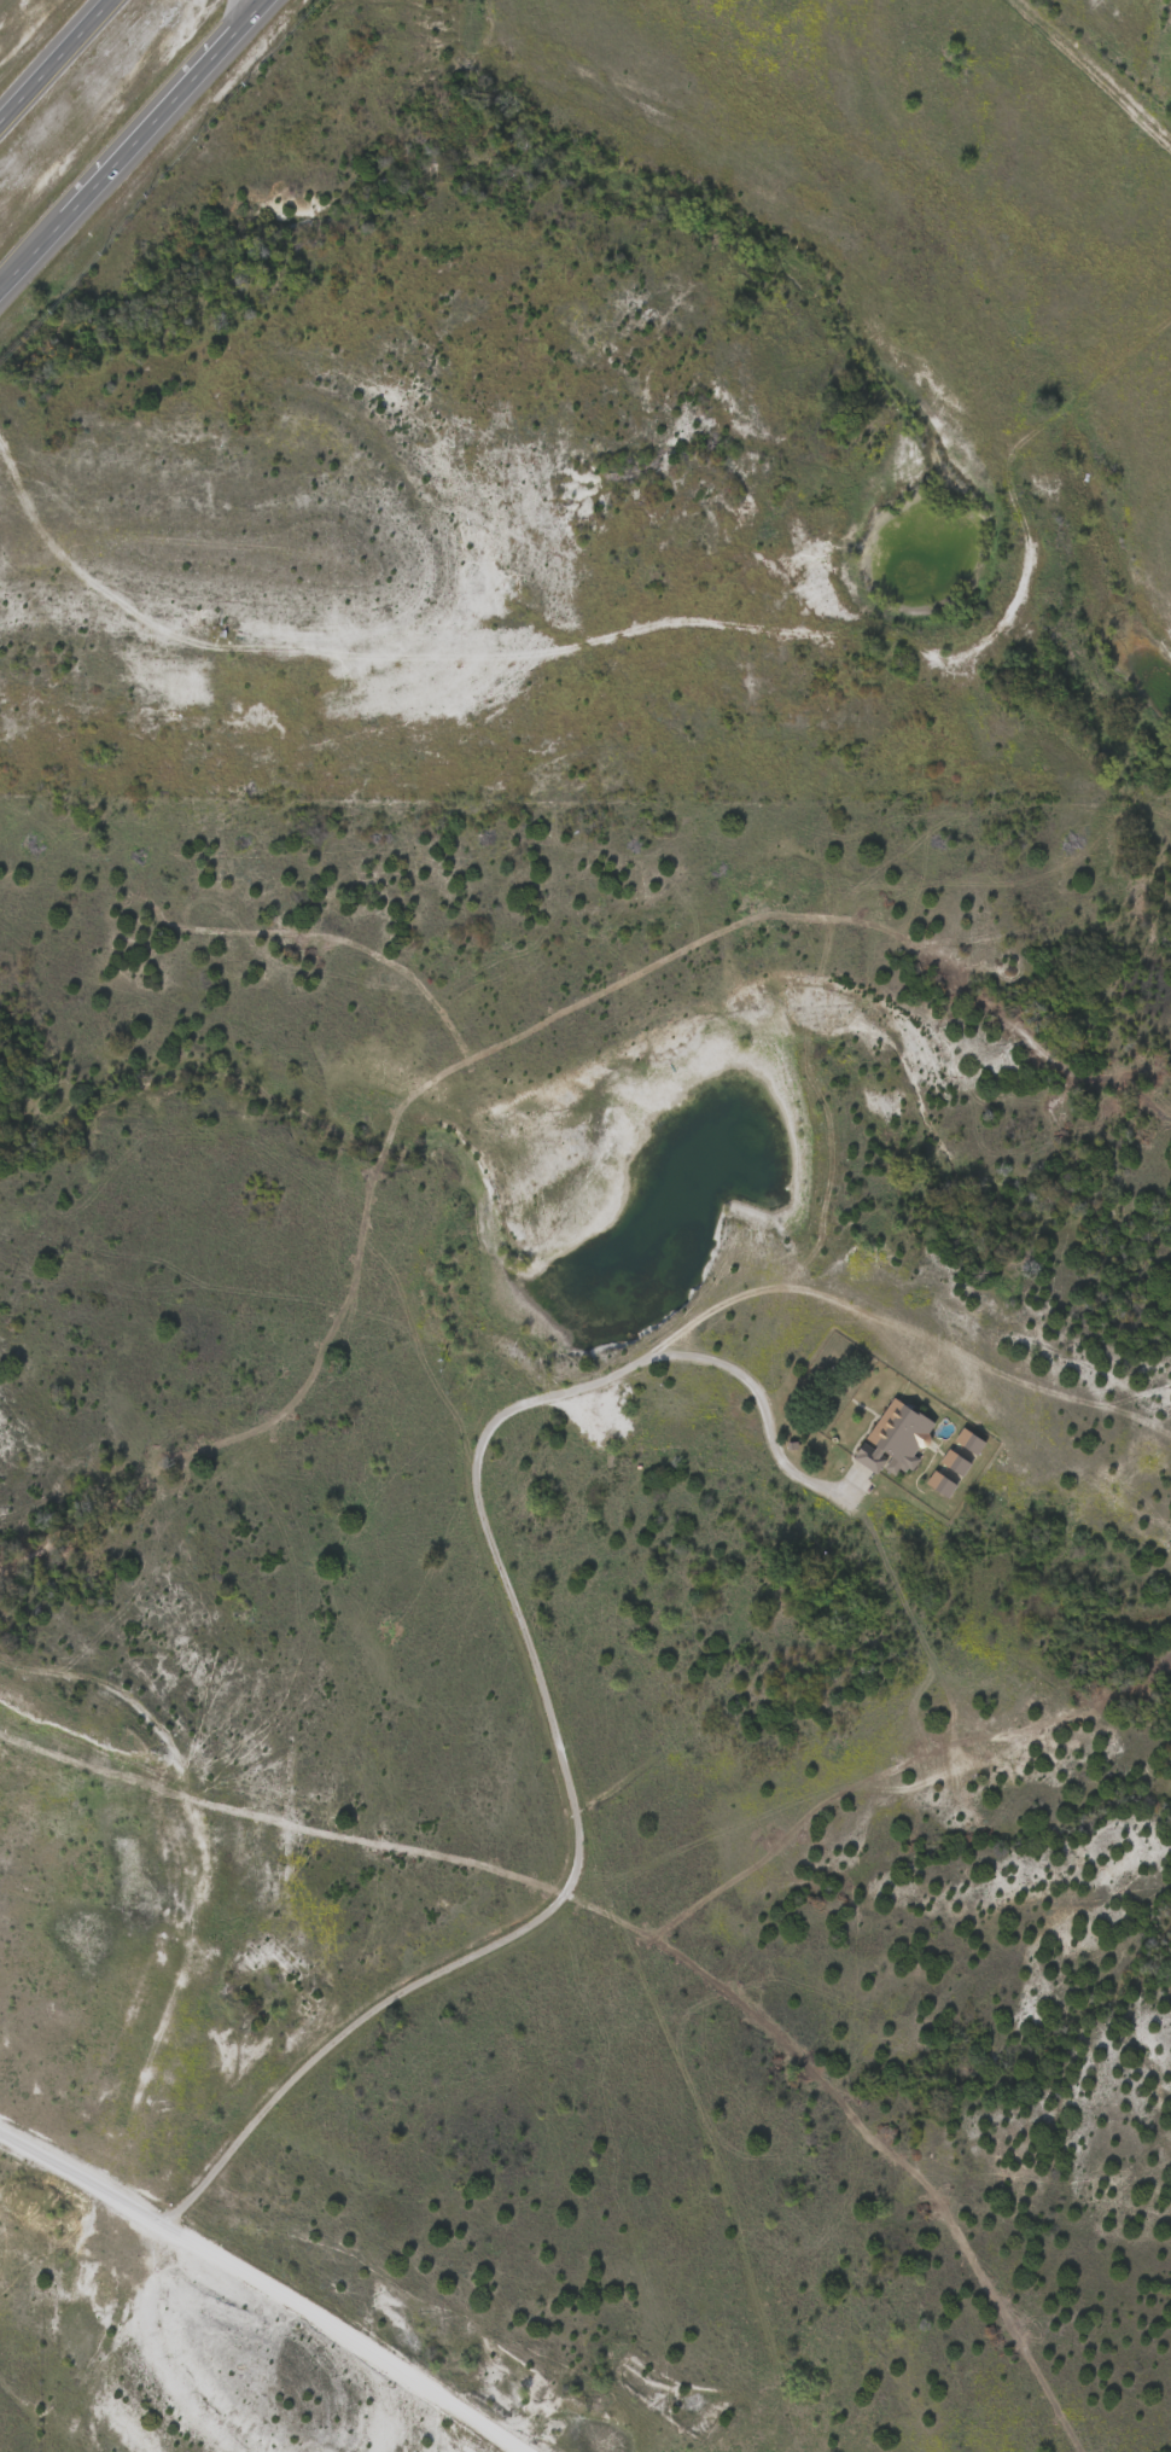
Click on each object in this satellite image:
road: (56, 59)
road: (1090, 69)
road: (129, 142)
road: (805, 1281)
road: (759, 1414)
building: (895, 1438)
road: (537, 1681)
road: (247, 2114)
road: (256, 2273)

